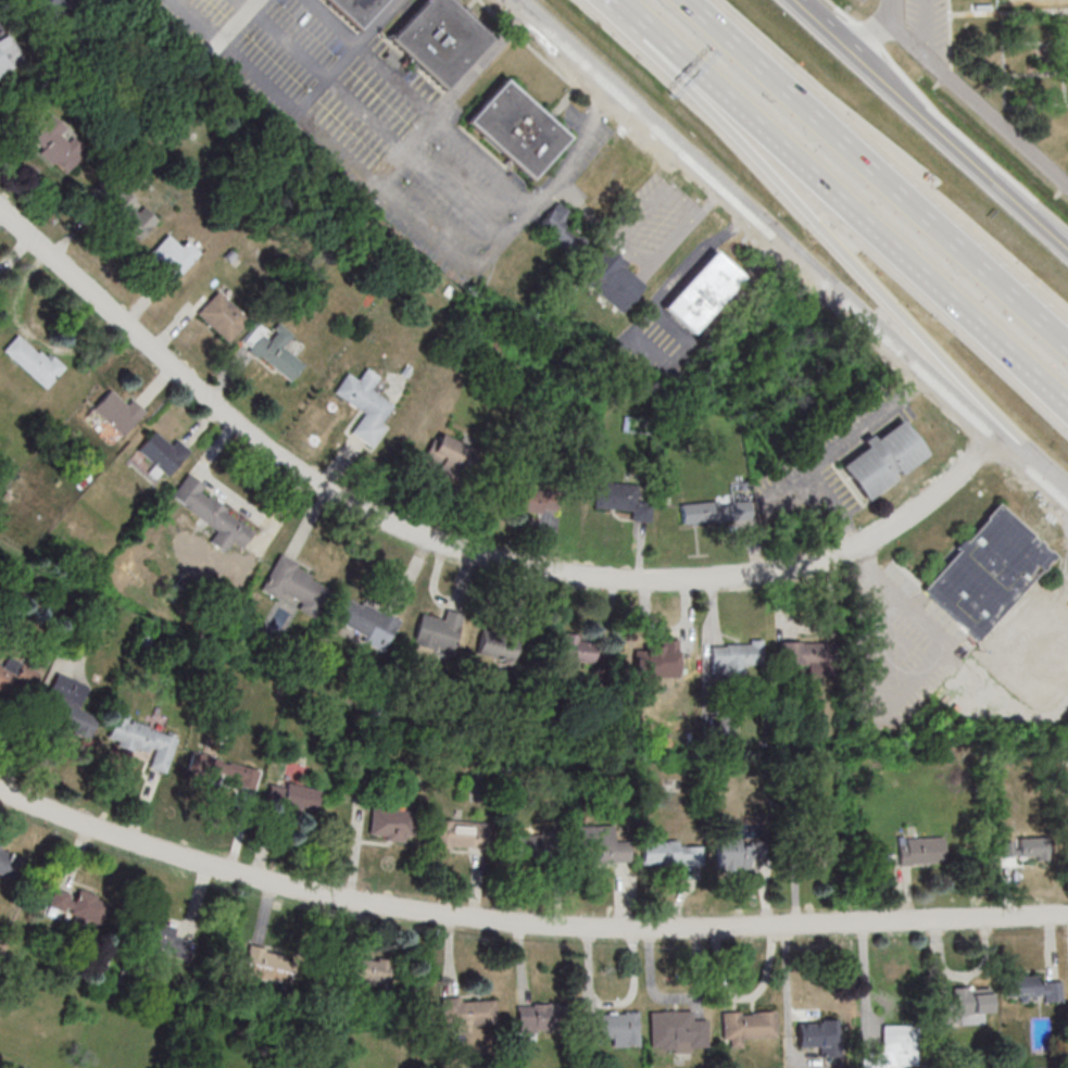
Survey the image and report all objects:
road: (247, 3)
building: (50, 8)
building: (352, 10)
road: (804, 10)
road: (840, 10)
road: (237, 21)
parking lot: (927, 23)
road: (832, 34)
road: (866, 34)
road: (869, 35)
building: (437, 39)
building: (9, 55)
road: (349, 59)
road: (671, 72)
road: (452, 98)
road: (970, 98)
road: (426, 101)
road: (379, 123)
building: (516, 128)
building: (52, 140)
road: (969, 142)
road: (957, 150)
road: (878, 172)
road: (709, 199)
road: (842, 203)
building: (124, 210)
road: (407, 215)
road: (757, 216)
road: (734, 225)
building: (560, 228)
road: (625, 238)
building: (172, 256)
building: (615, 279)
road: (869, 288)
building: (701, 292)
road: (736, 294)
road: (663, 297)
building: (219, 317)
building: (274, 351)
building: (30, 360)
building: (362, 405)
building: (117, 412)
building: (160, 453)
building: (452, 457)
building: (882, 460)
road: (1034, 462)
building: (531, 499)
building: (623, 500)
building: (715, 512)
building: (213, 515)
road: (467, 552)
building: (987, 571)
building: (291, 586)
building: (363, 623)
building: (437, 631)
building: (497, 648)
building: (576, 648)
building: (805, 654)
building: (734, 657)
building: (658, 659)
building: (15, 679)
building: (66, 706)
building: (725, 728)
building: (139, 740)
building: (219, 769)
building: (292, 796)
building: (388, 825)
building: (456, 834)
building: (527, 844)
building: (602, 845)
building: (1022, 846)
building: (732, 849)
building: (921, 851)
building: (670, 852)
building: (822, 852)
building: (9, 863)
building: (78, 905)
road: (524, 921)
building: (165, 937)
building: (268, 965)
building: (365, 971)
building: (1031, 989)
building: (966, 1006)
building: (466, 1013)
building: (537, 1017)
building: (746, 1027)
building: (615, 1028)
building: (676, 1031)
building: (817, 1035)
building: (894, 1048)

